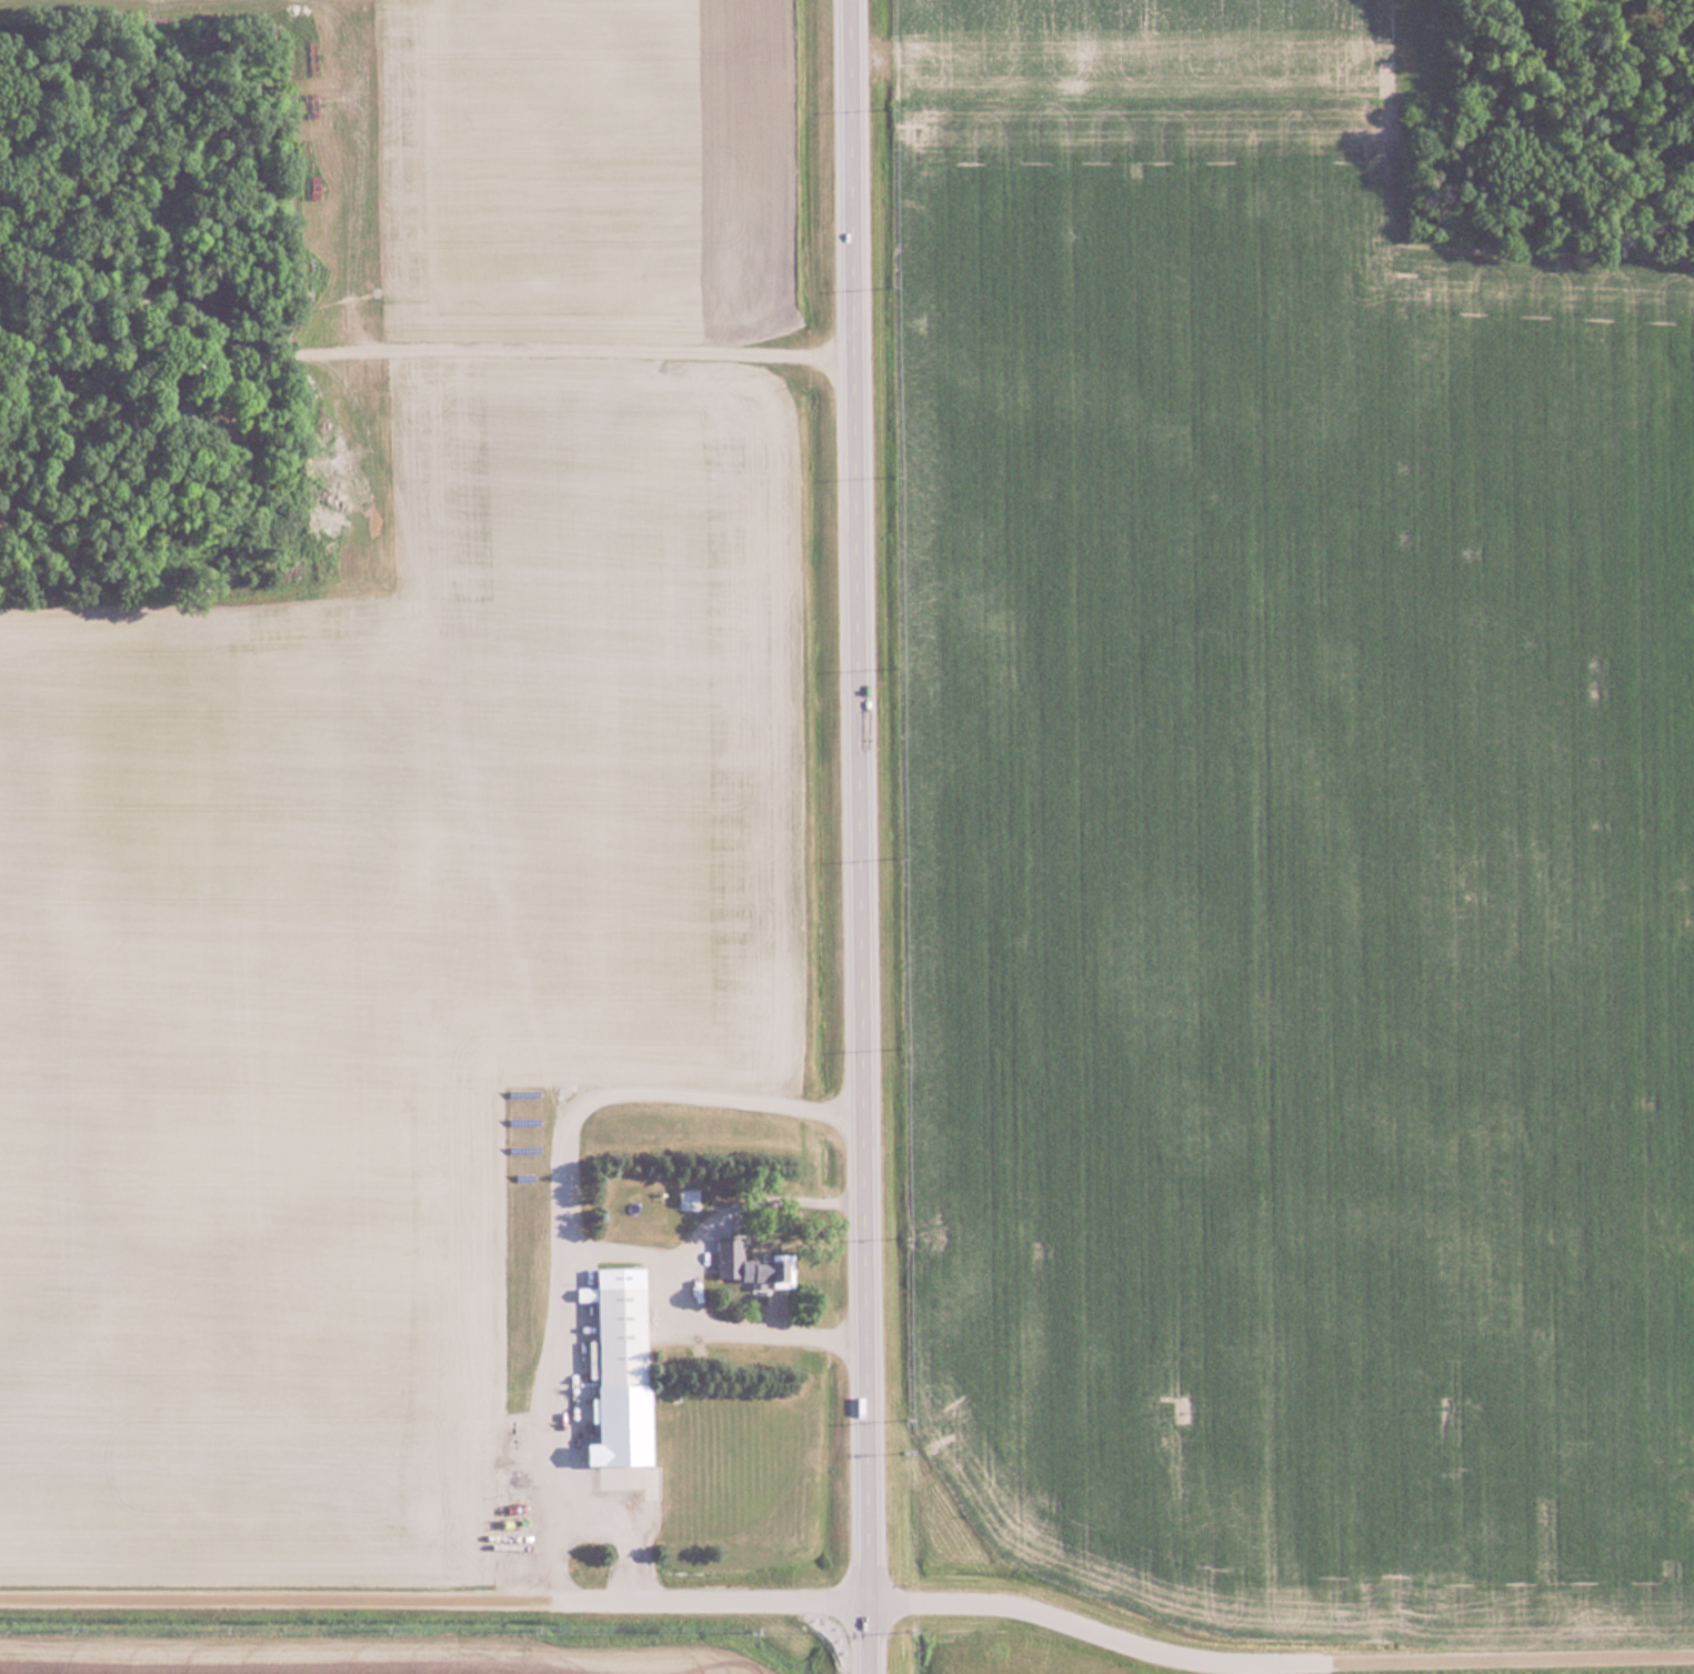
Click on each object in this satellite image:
road: (864, 836)
road: (751, 1189)
road: (569, 1200)
building: (751, 1265)
road: (701, 1309)
building: (625, 1372)
road: (631, 1520)
road: (889, 1598)
road: (273, 1603)
road: (1457, 1658)

